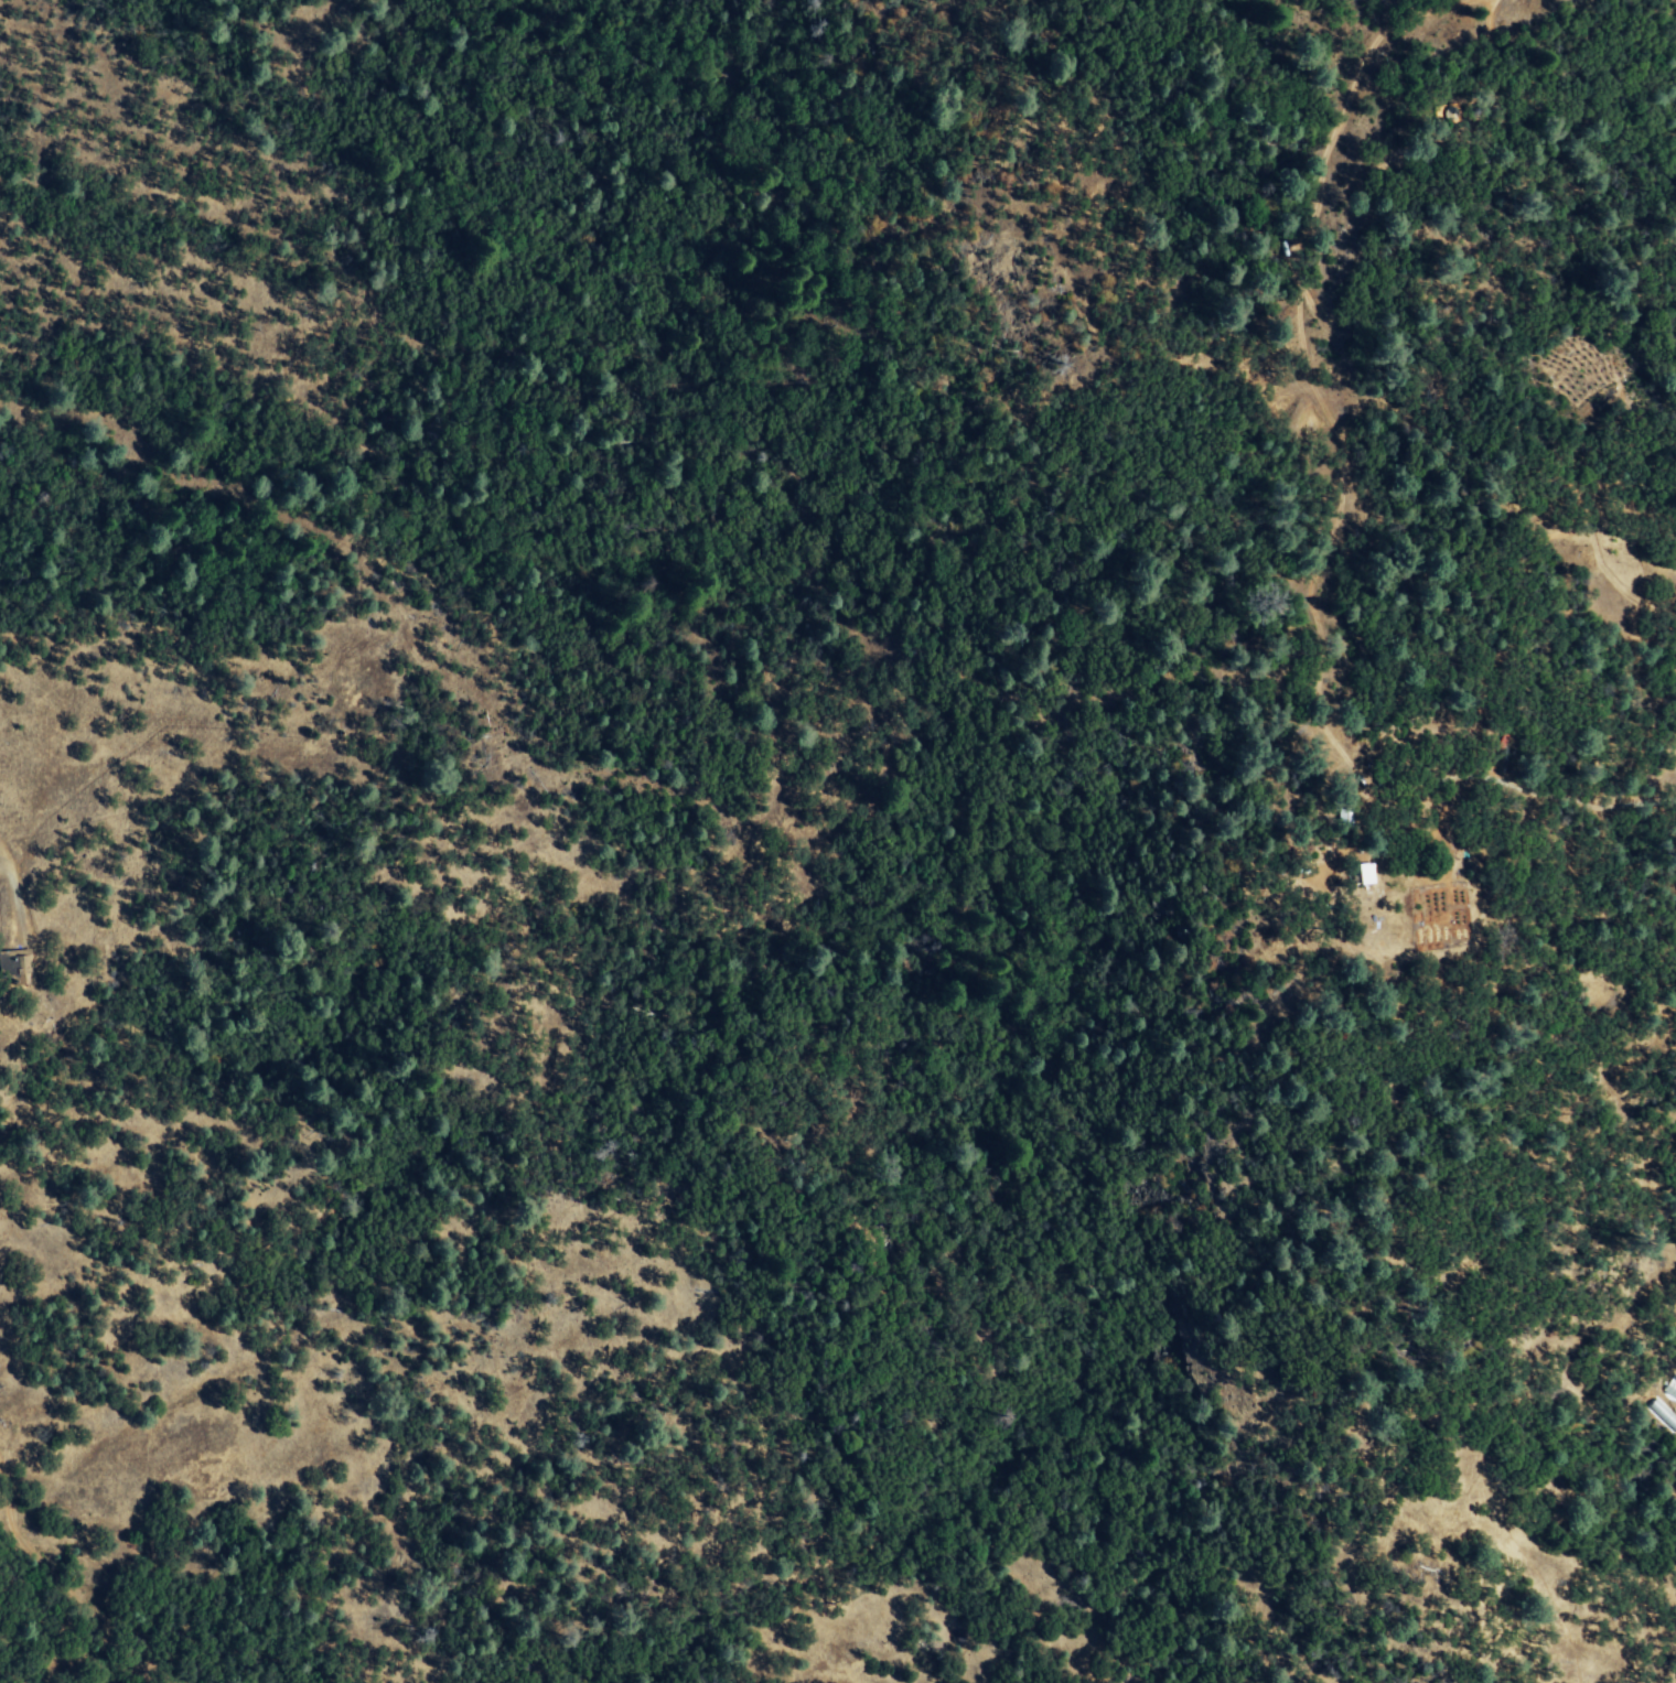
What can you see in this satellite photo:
building: (1364, 875)
building: (17, 968)
building: (1669, 1389)

